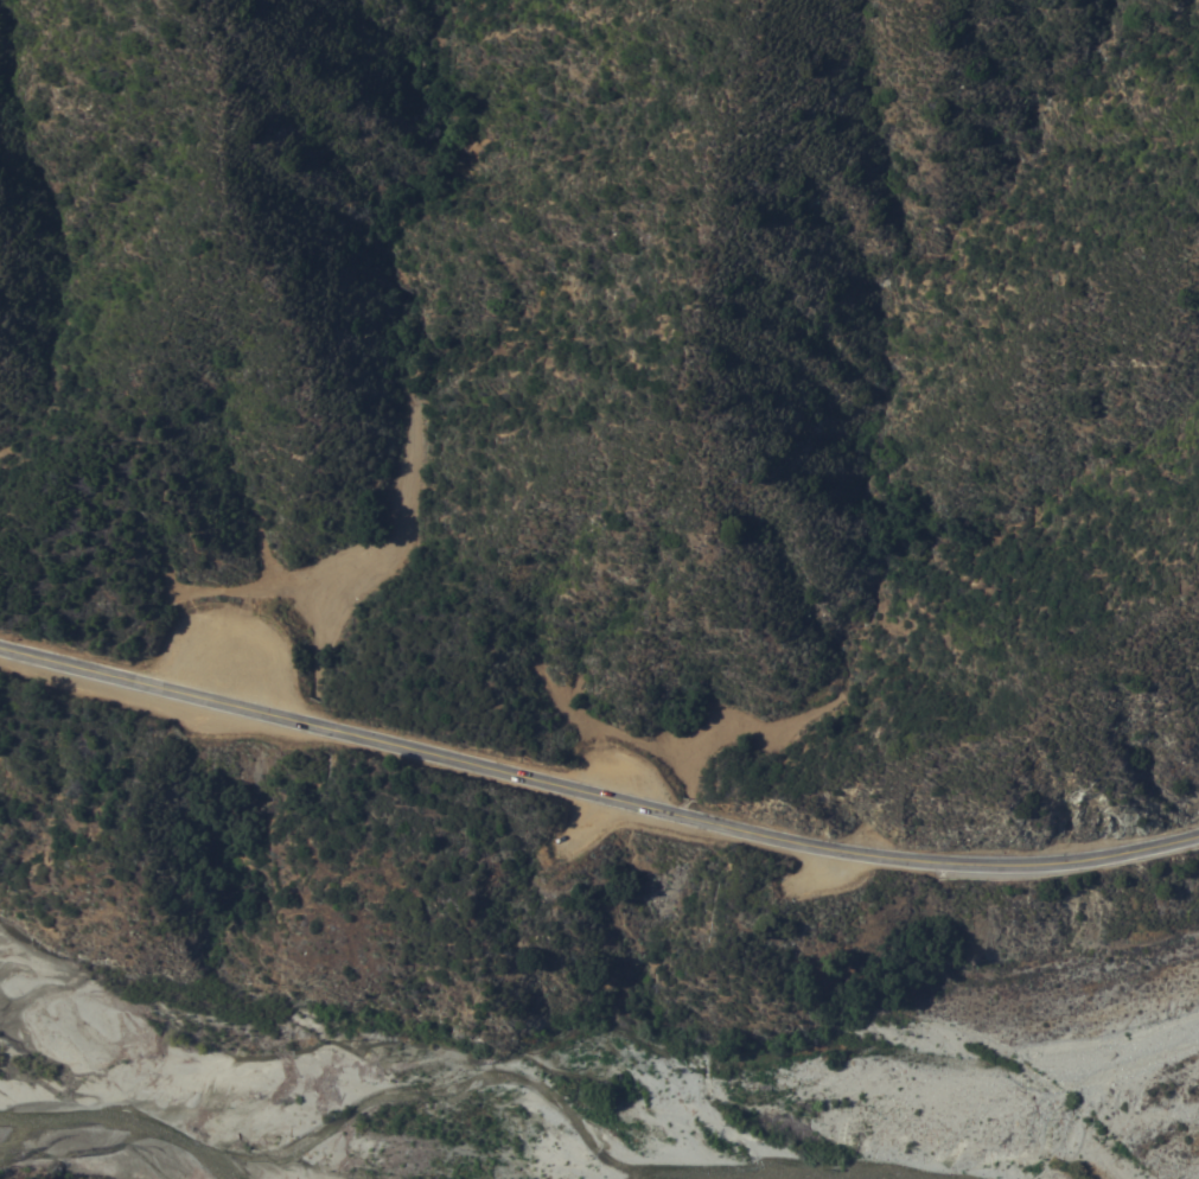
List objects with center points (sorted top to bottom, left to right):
parking lot: (224, 657)
parking lot: (625, 775)
road: (594, 794)
river: (125, 1117)
river: (772, 1171)

